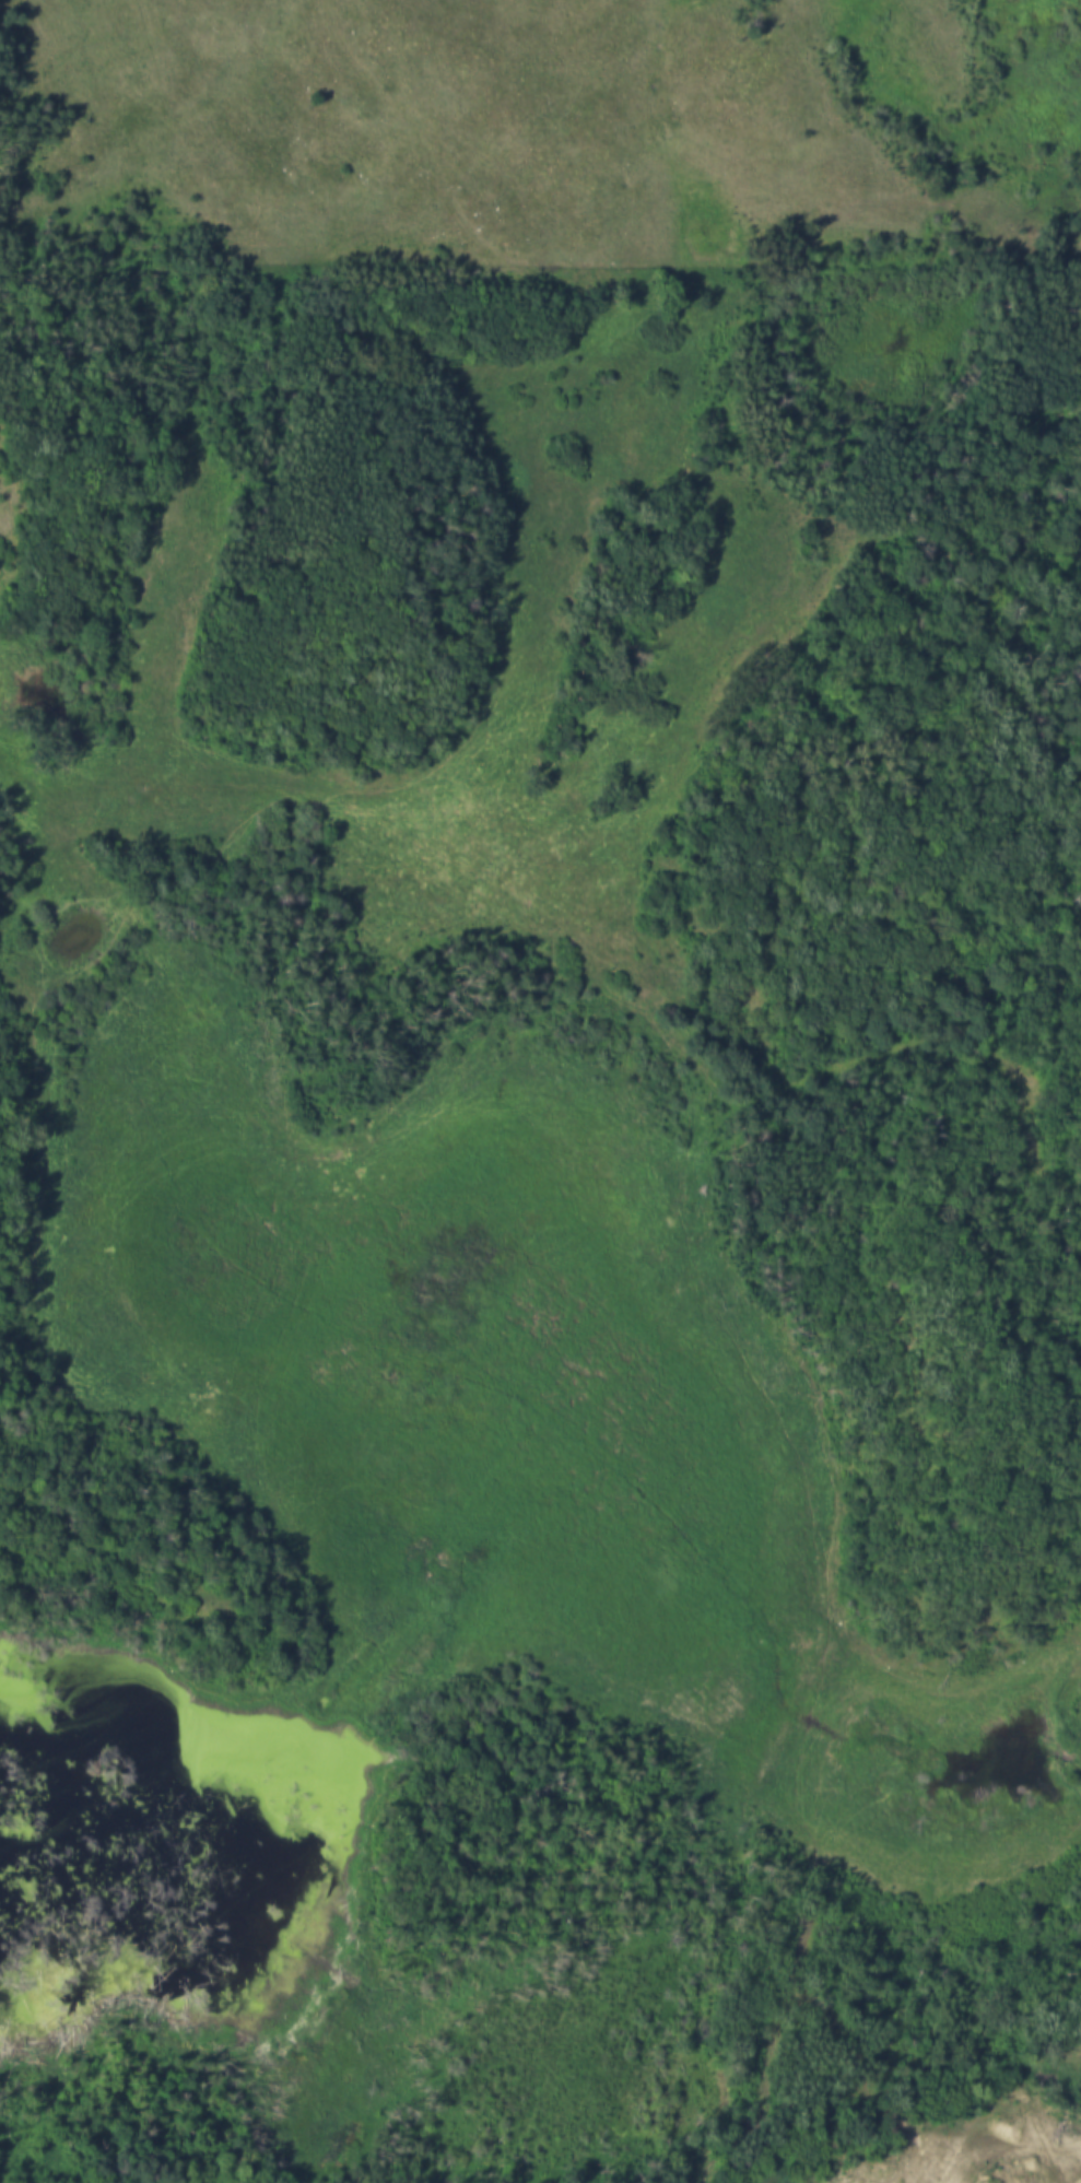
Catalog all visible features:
quarry: (957, 2147)

